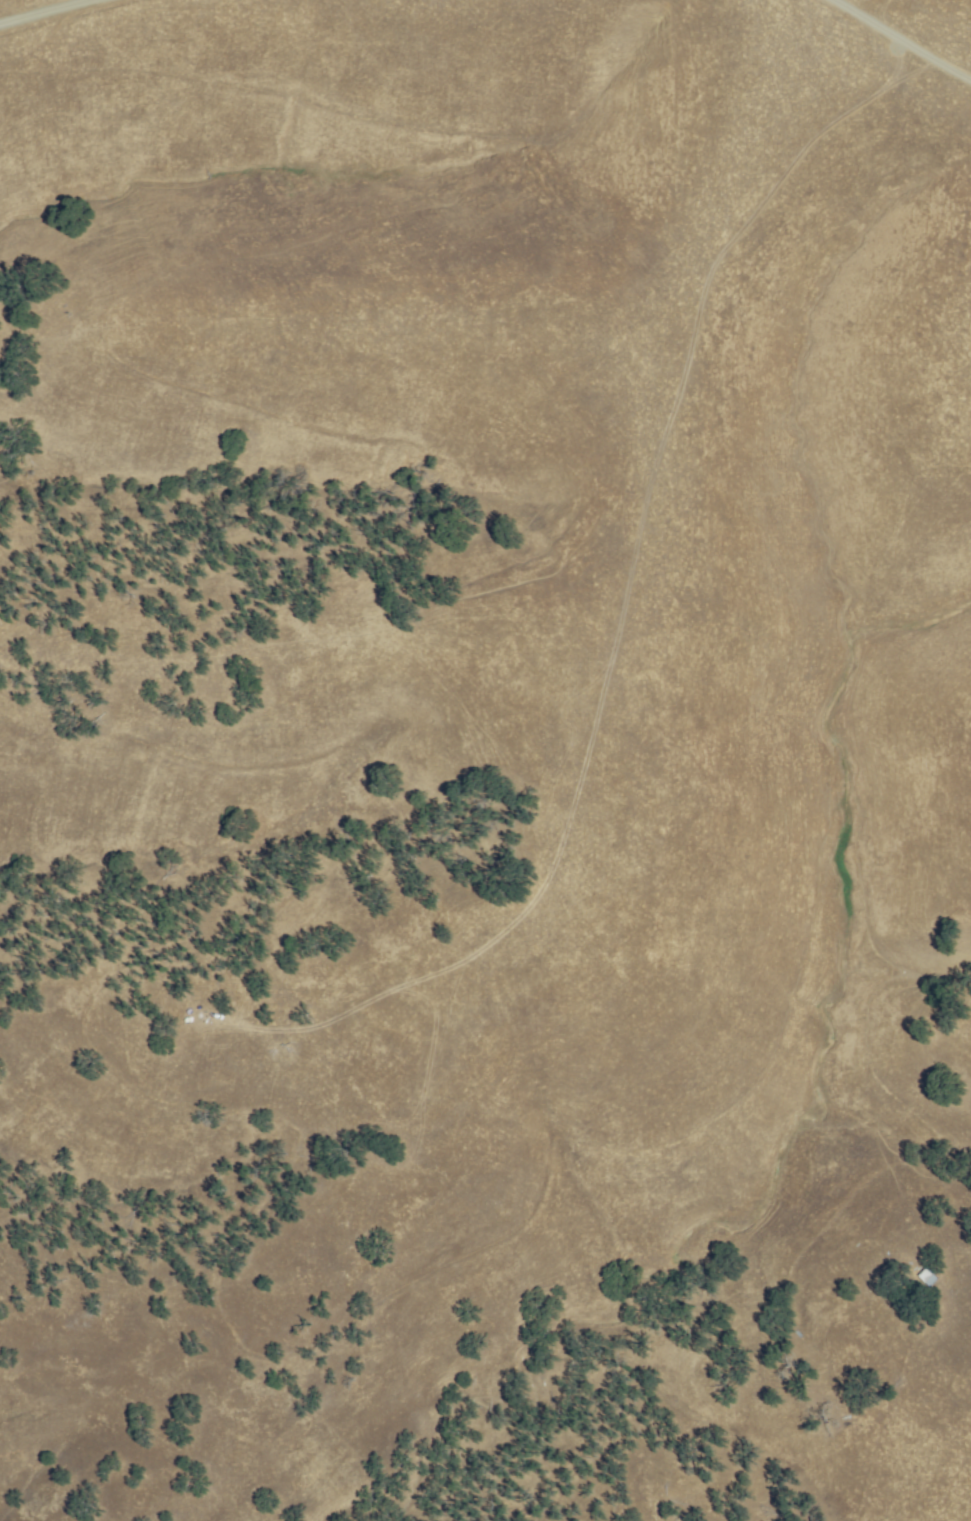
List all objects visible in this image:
road: (49, 11)
road: (898, 39)

